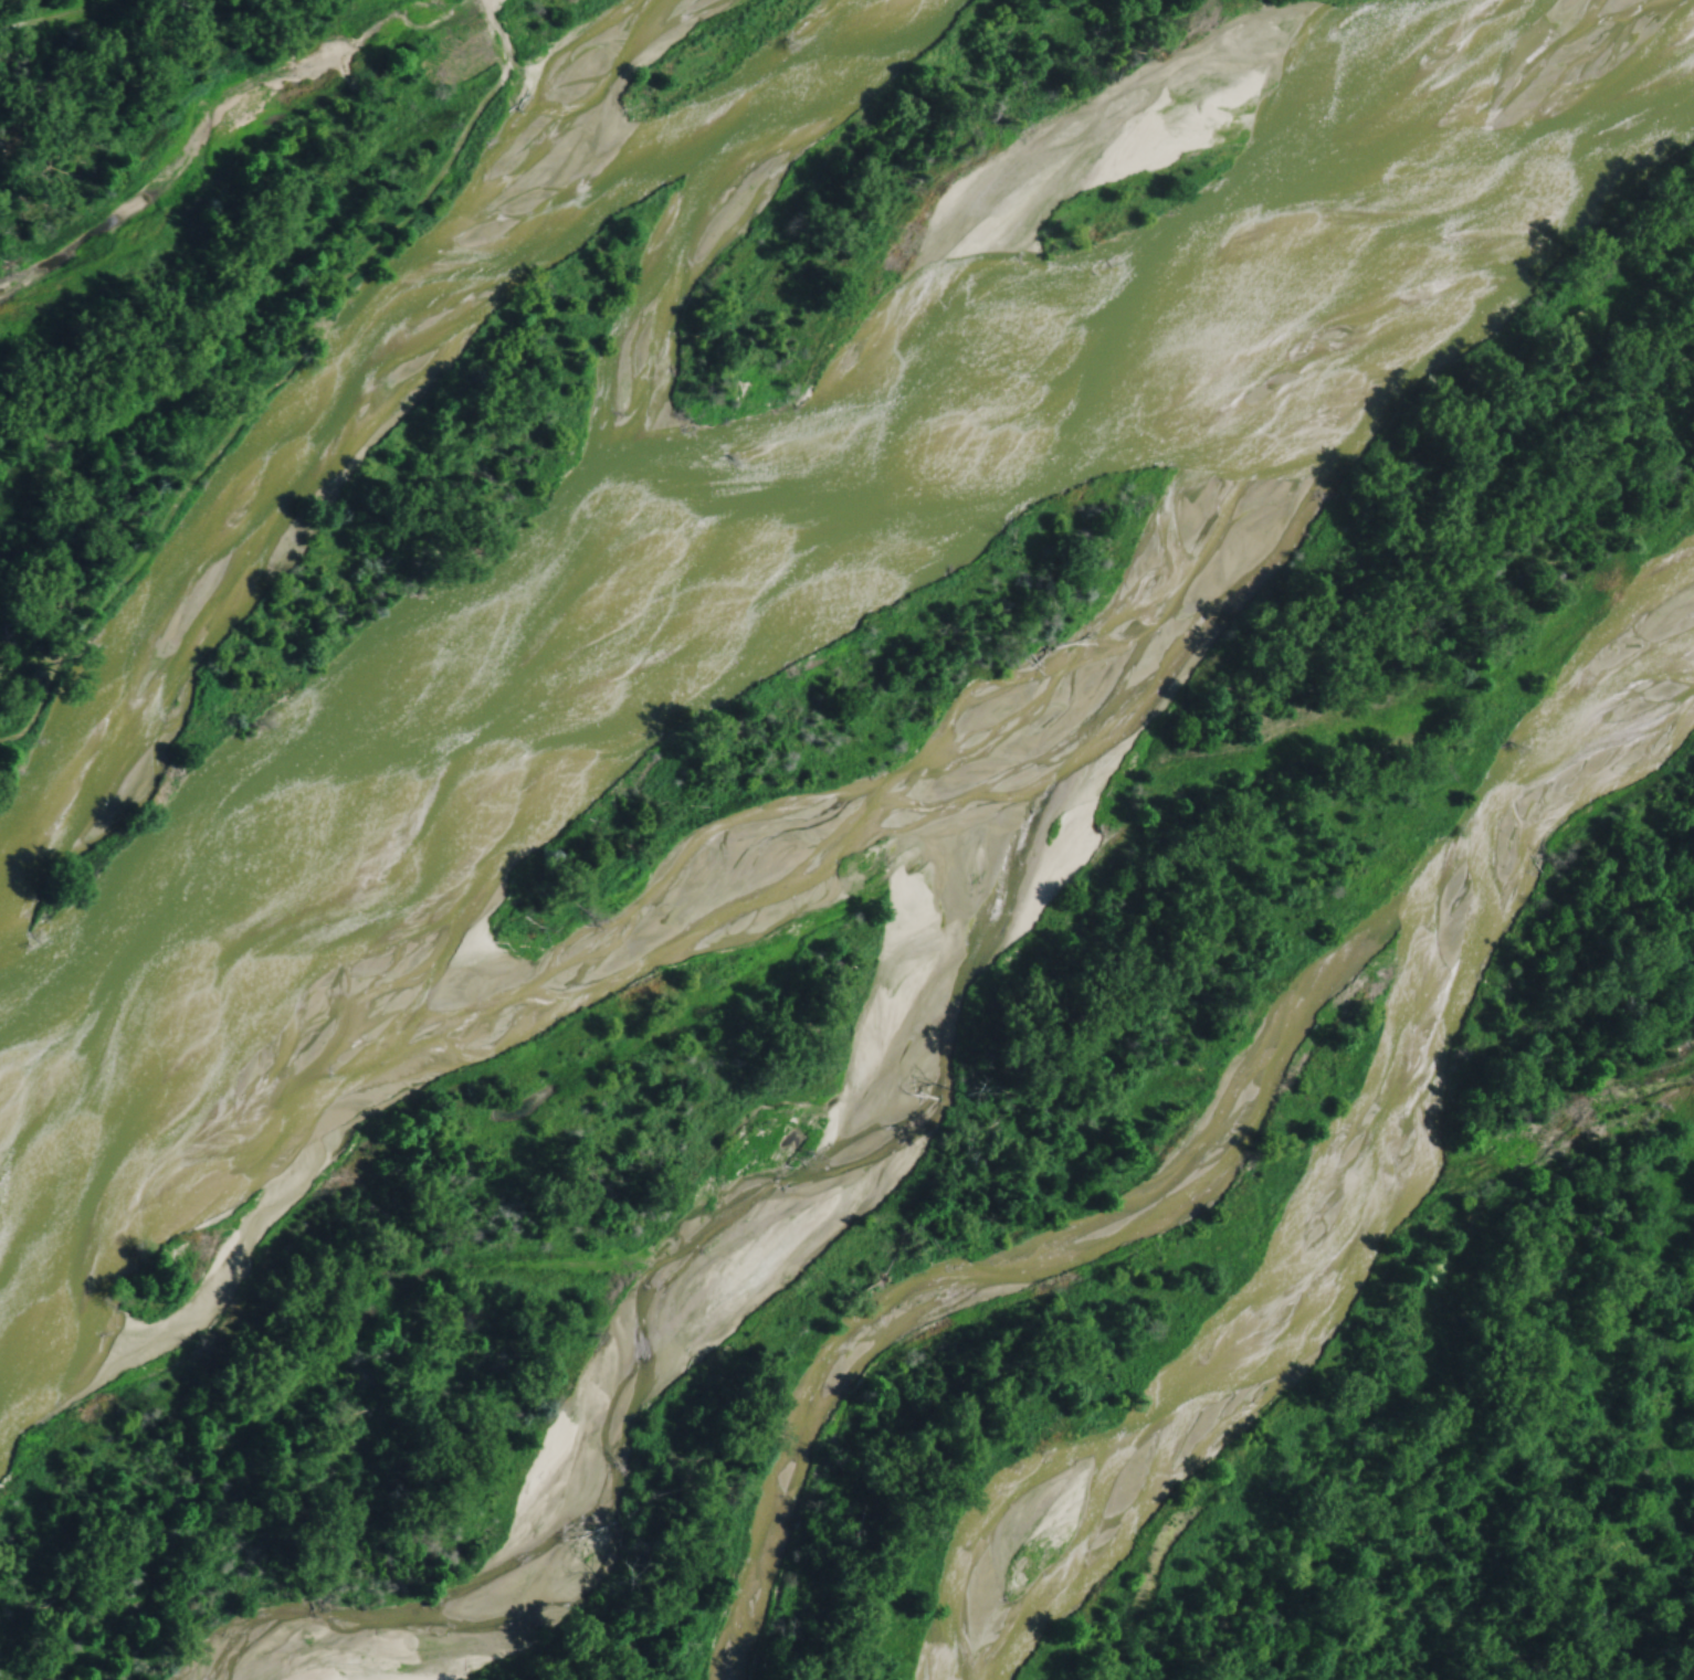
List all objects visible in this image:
river: (769, 518)

